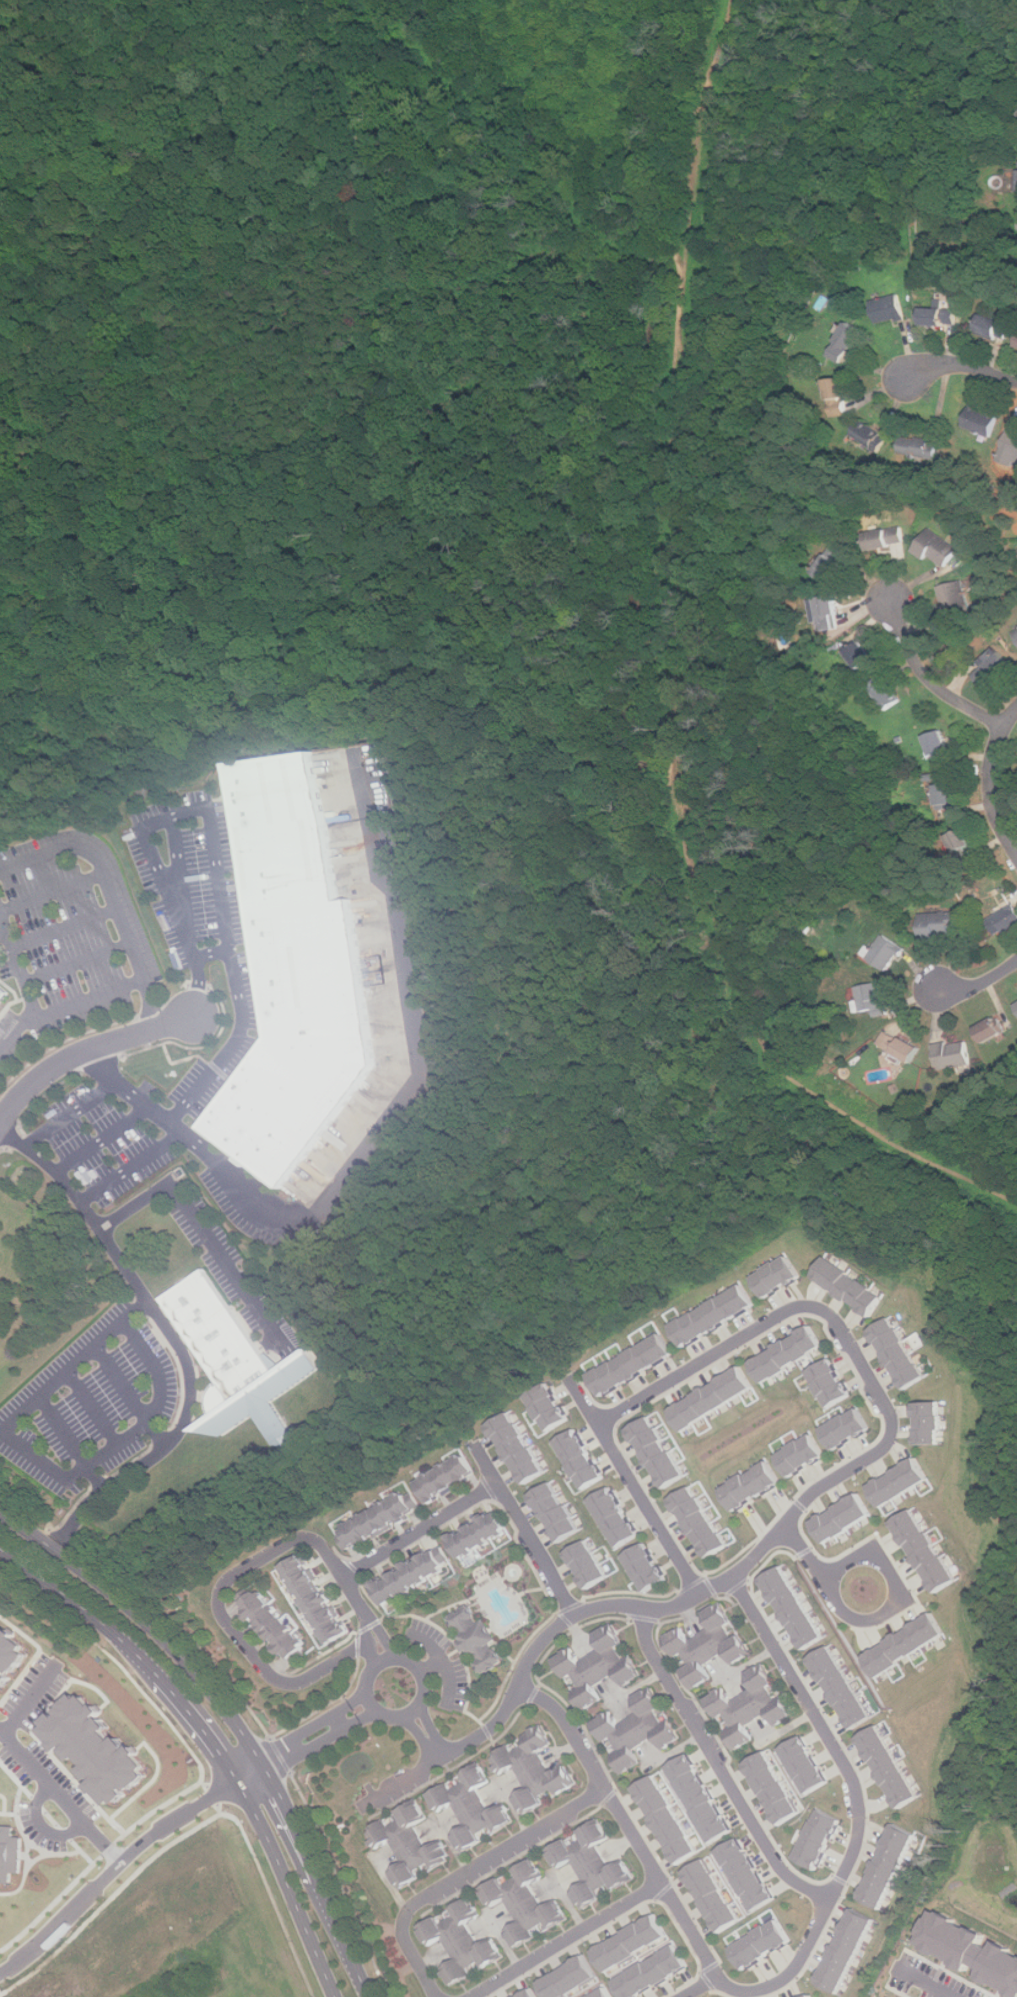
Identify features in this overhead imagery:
building: (890, 310)
building: (940, 317)
building: (994, 327)
building: (847, 343)
road: (962, 365)
building: (840, 395)
building: (982, 420)
building: (871, 436)
building: (1012, 438)
building: (919, 448)
building: (886, 538)
building: (937, 549)
building: (835, 561)
building: (954, 600)
building: (831, 613)
building: (1016, 632)
building: (862, 656)
building: (993, 669)
road: (928, 679)
building: (886, 693)
building: (939, 744)
road: (990, 781)
building: (947, 794)
road: (216, 843)
building: (962, 844)
road: (179, 871)
road: (52, 891)
road: (111, 891)
building: (1004, 920)
building: (939, 924)
road: (65, 927)
road: (213, 951)
building: (886, 952)
road: (77, 961)
road: (18, 965)
building: (295, 975)
road: (978, 985)
building: (3, 994)
building: (872, 998)
road: (66, 1005)
building: (991, 1029)
building: (900, 1046)
road: (81, 1050)
building: (954, 1054)
road: (69, 1114)
road: (379, 1128)
road: (101, 1138)
road: (129, 1165)
road: (204, 1229)
building: (777, 1277)
building: (848, 1287)
building: (712, 1315)
road: (174, 1337)
road: (848, 1340)
building: (896, 1353)
building: (786, 1354)
building: (235, 1363)
building: (631, 1365)
building: (829, 1383)
road: (129, 1395)
building: (712, 1398)
building: (547, 1406)
road: (88, 1410)
building: (928, 1422)
building: (847, 1428)
road: (71, 1443)
building: (517, 1448)
building: (658, 1452)
building: (802, 1454)
building: (579, 1458)
road: (43, 1462)
building: (449, 1478)
building: (901, 1482)
building: (751, 1485)
road: (634, 1487)
building: (554, 1512)
building: (614, 1517)
building: (843, 1518)
building: (380, 1521)
building: (700, 1522)
road: (525, 1529)
road: (420, 1531)
building: (480, 1534)
building: (925, 1550)
building: (586, 1564)
building: (644, 1567)
building: (413, 1575)
building: (316, 1599)
building: (793, 1607)
road: (878, 1613)
building: (276, 1627)
road: (378, 1634)
building: (477, 1639)
road: (242, 1644)
building: (708, 1645)
building: (905, 1645)
road: (532, 1650)
road: (369, 1655)
building: (11, 1656)
road: (442, 1663)
road: (430, 1667)
building: (598, 1667)
road: (419, 1670)
building: (841, 1687)
road: (358, 1699)
road: (30, 1701)
building: (751, 1706)
road: (233, 1716)
road: (369, 1716)
road: (340, 1721)
building: (637, 1730)
road: (432, 1732)
road: (212, 1738)
road: (421, 1739)
road: (286, 1744)
building: (96, 1749)
road: (334, 1751)
road: (294, 1758)
building: (805, 1764)
road: (201, 1765)
road: (717, 1765)
building: (890, 1767)
building: (534, 1769)
building: (772, 1788)
road: (212, 1795)
road: (60, 1797)
building: (698, 1798)
building: (472, 1807)
road: (861, 1807)
road: (45, 1812)
building: (664, 1819)
road: (624, 1823)
road: (43, 1825)
road: (187, 1831)
road: (29, 1839)
building: (818, 1839)
building: (410, 1844)
building: (10, 1855)
road: (26, 1856)
road: (38, 1858)
building: (591, 1864)
building: (889, 1865)
road: (26, 1874)
road: (107, 1874)
road: (463, 1874)
building: (745, 1874)
road: (389, 1884)
building: (710, 1896)
building: (526, 1903)
road: (565, 1940)
building: (461, 1941)
building: (630, 1942)
building: (759, 1944)
building: (844, 1950)
building: (969, 1950)
building: (651, 1972)
building: (569, 1977)
road: (924, 1983)
road: (698, 1989)
road: (1, 1993)
building: (528, 1993)
building: (602, 1993)
building: (807, 1996)
building: (886, 1996)

